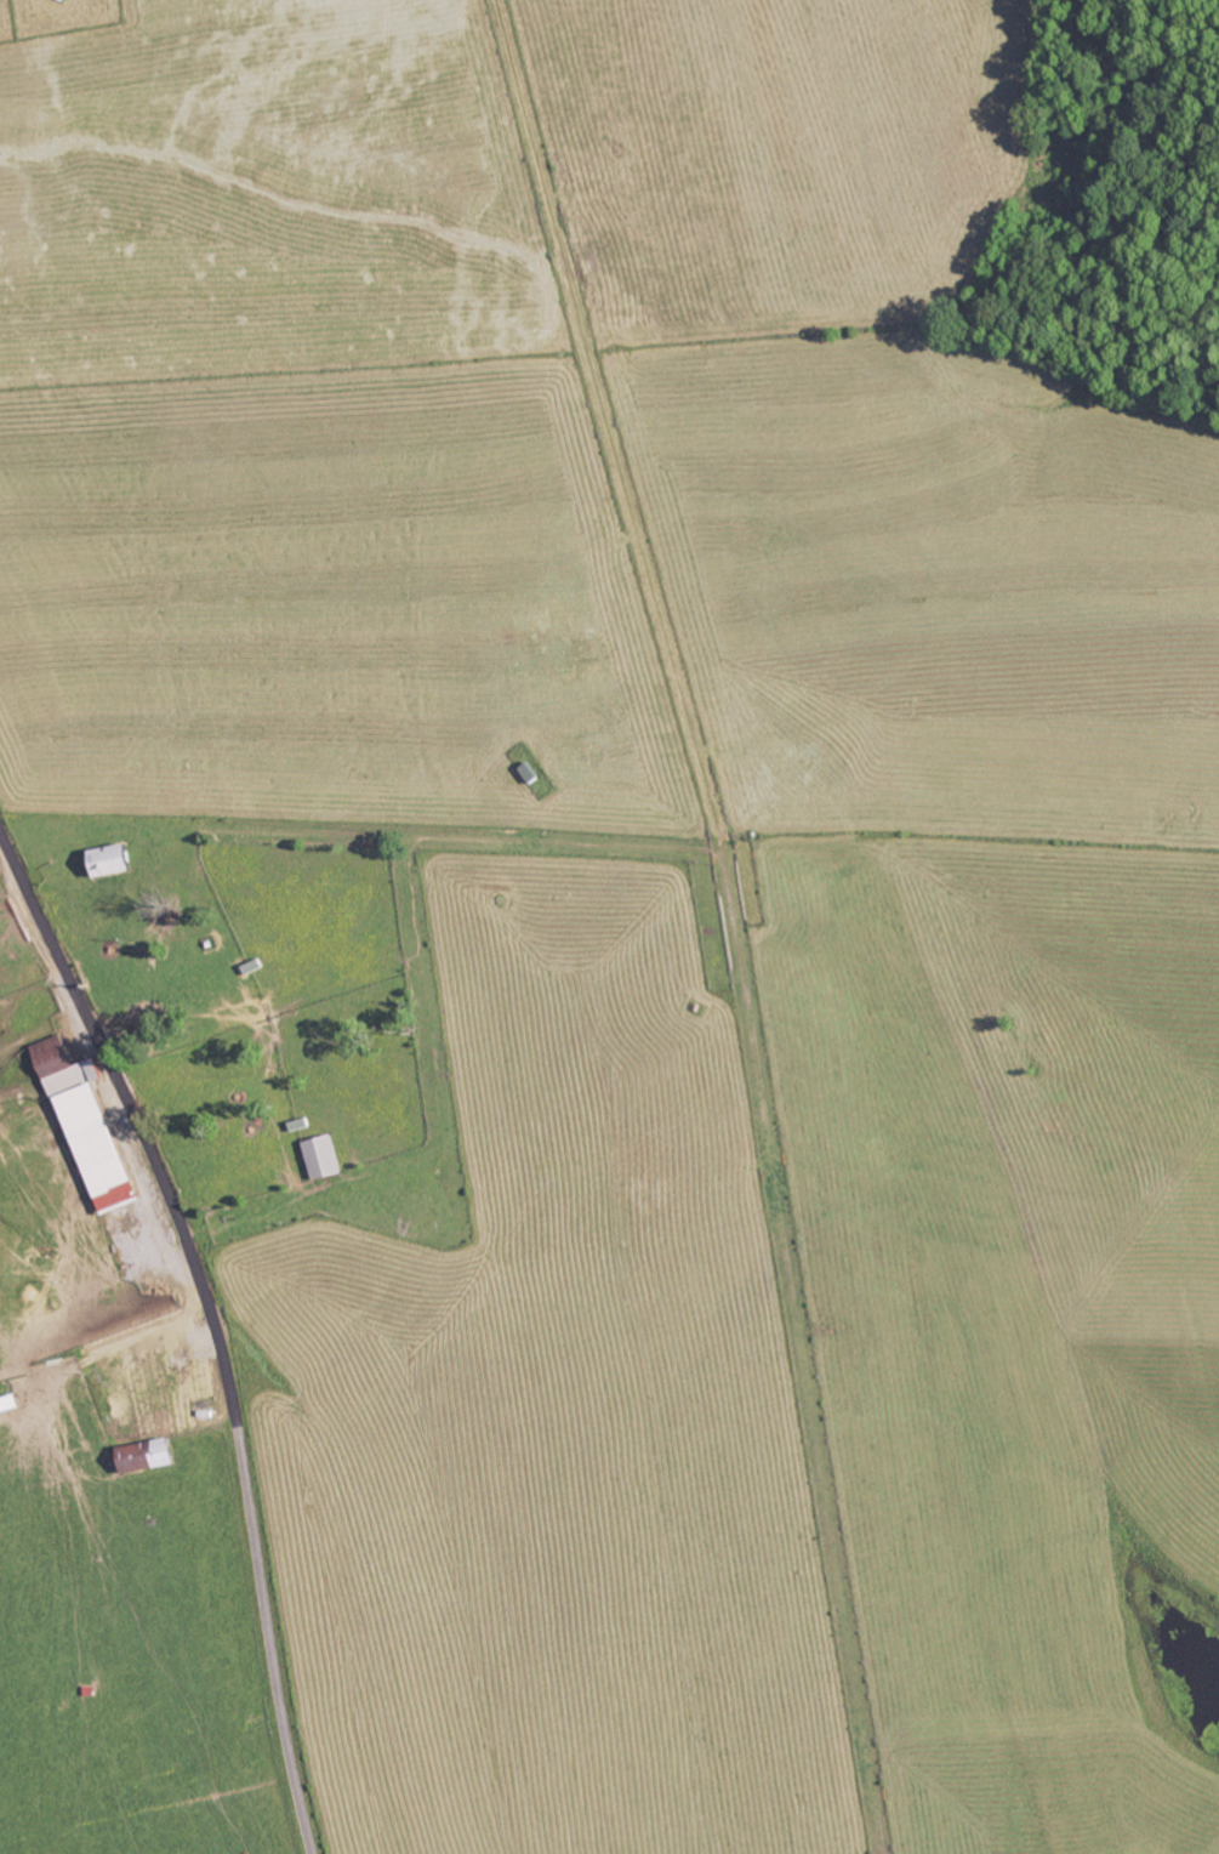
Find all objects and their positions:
building: (115, 859)
road: (609, 863)
building: (91, 1126)
building: (325, 1158)
road: (213, 1324)
road: (76, 1342)
building: (150, 1456)

